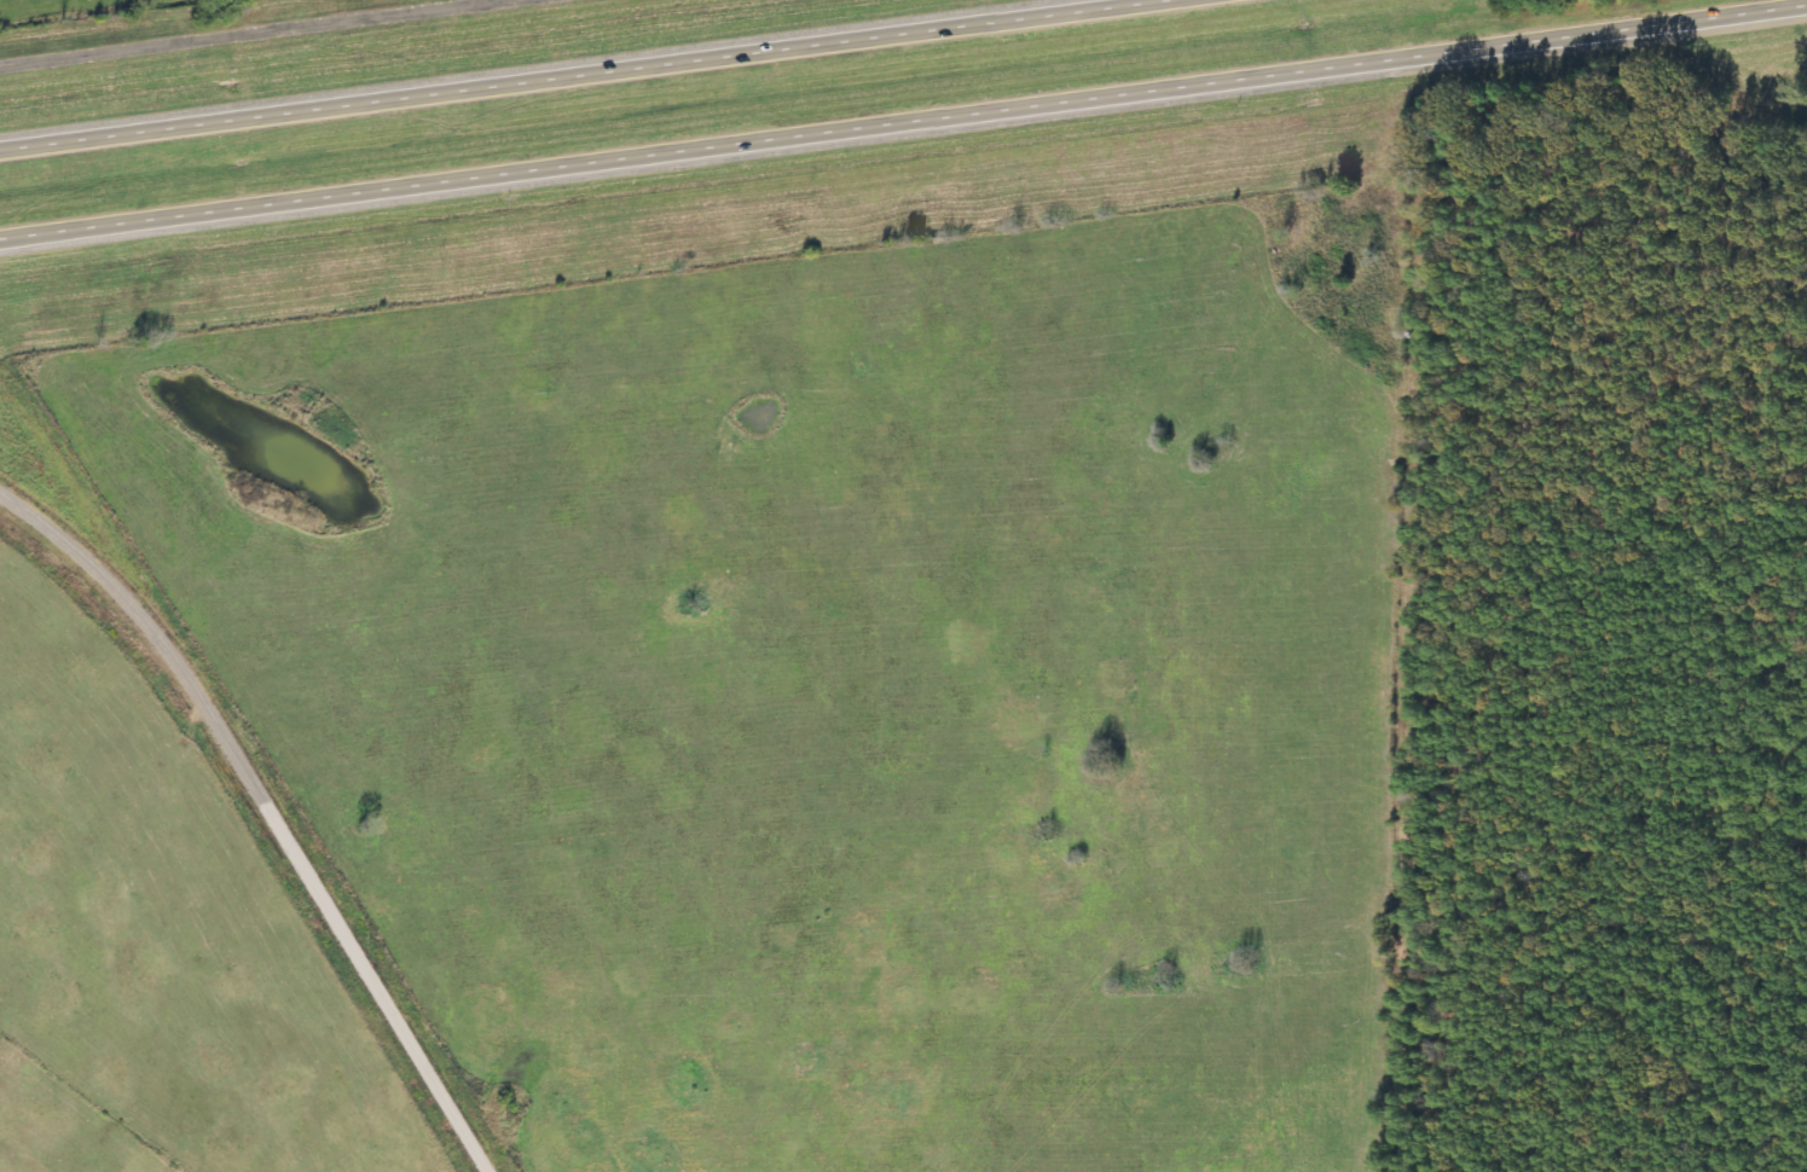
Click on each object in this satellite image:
road: (249, 30)
road: (560, 74)
road: (894, 123)
road: (274, 806)

